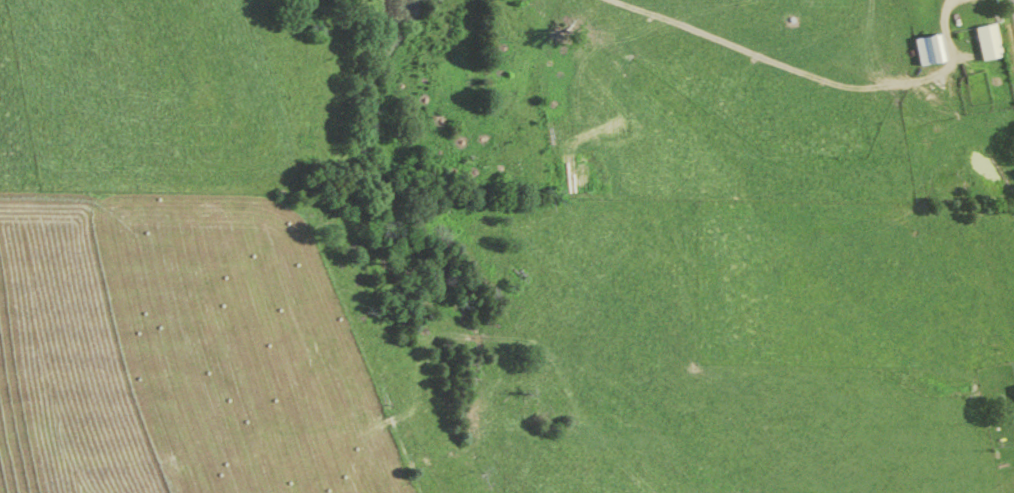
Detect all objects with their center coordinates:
building: (984, 44)
building: (926, 51)
building: (577, 175)
building: (1013, 390)

